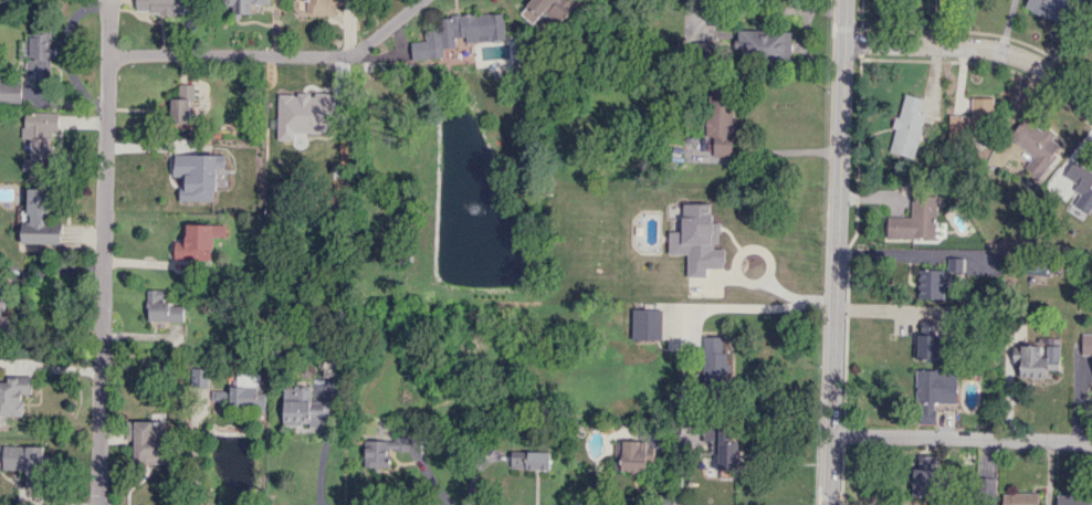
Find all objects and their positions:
building: (244, 6)
building: (160, 7)
building: (547, 9)
building: (1051, 9)
building: (458, 33)
building: (763, 45)
road: (977, 48)
road: (65, 52)
building: (40, 55)
road: (273, 57)
building: (10, 93)
road: (62, 103)
building: (181, 103)
building: (303, 116)
building: (720, 117)
building: (973, 122)
road: (87, 124)
building: (907, 126)
building: (39, 140)
building: (1035, 146)
building: (197, 176)
building: (1081, 186)
building: (38, 220)
building: (913, 221)
building: (696, 240)
building: (198, 242)
road: (838, 252)
road: (103, 253)
building: (973, 263)
building: (931, 283)
building: (1, 302)
road: (770, 306)
building: (161, 307)
building: (647, 324)
building: (927, 340)
building: (1085, 344)
building: (714, 361)
building: (1033, 361)
building: (198, 378)
building: (933, 392)
building: (244, 393)
building: (12, 394)
building: (218, 394)
building: (302, 408)
road: (963, 439)
building: (148, 442)
building: (722, 445)
building: (384, 450)
building: (633, 456)
building: (529, 460)
building: (924, 462)
building: (24, 463)
building: (922, 483)
building: (987, 485)
building: (1020, 498)
building: (1073, 499)

